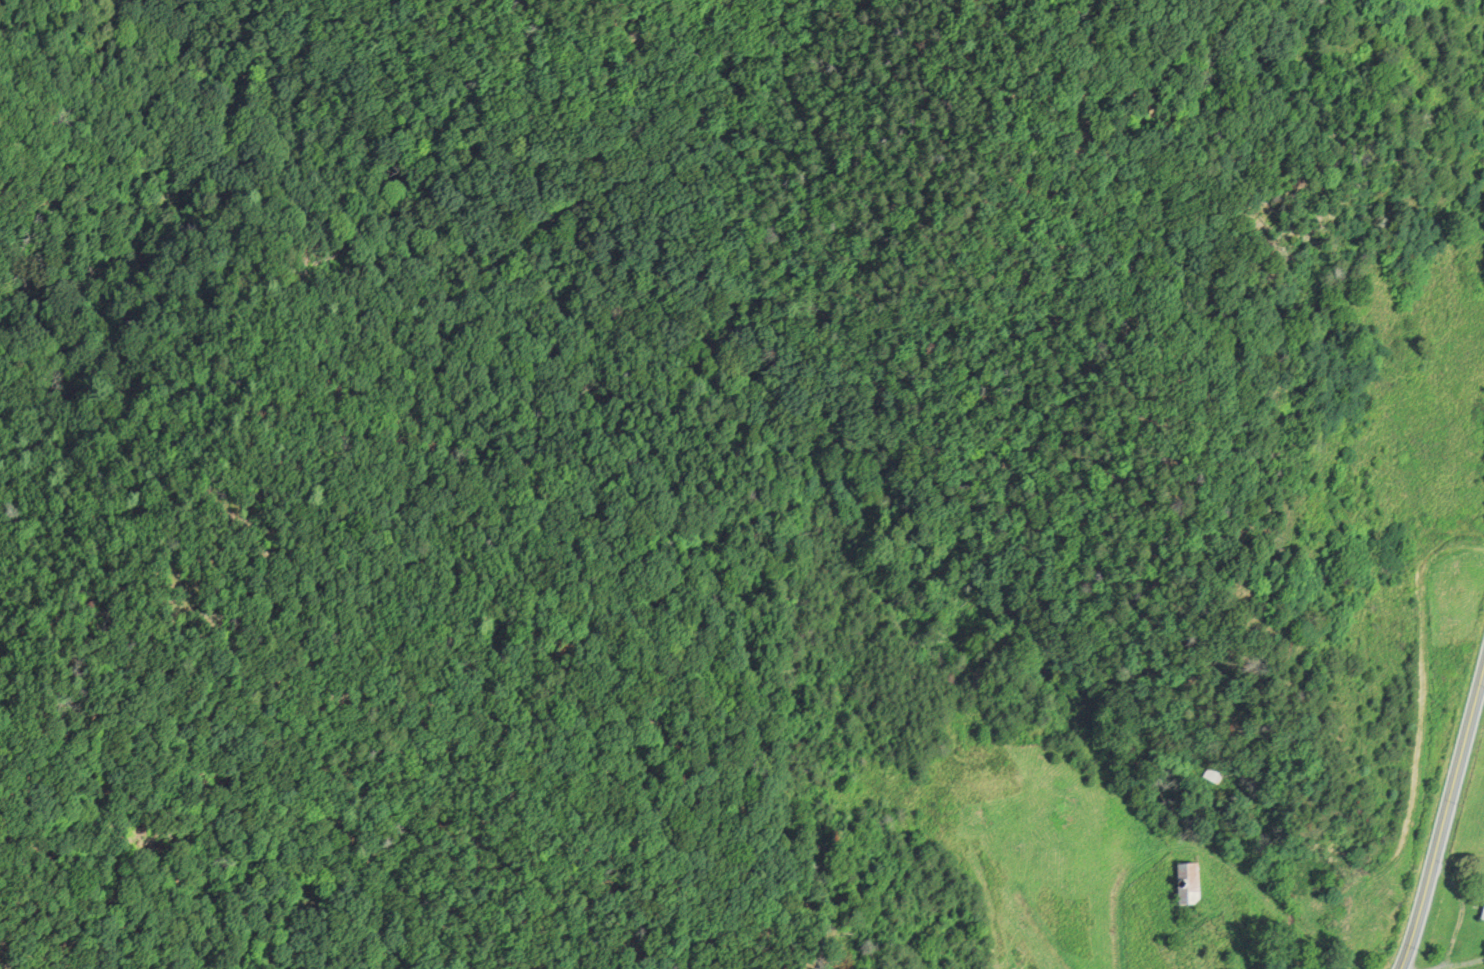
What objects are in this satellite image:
building: (1214, 775)
road: (1446, 821)
crop: (1472, 825)
road: (1213, 855)
building: (1190, 885)
building: (1483, 921)
road: (1462, 962)

